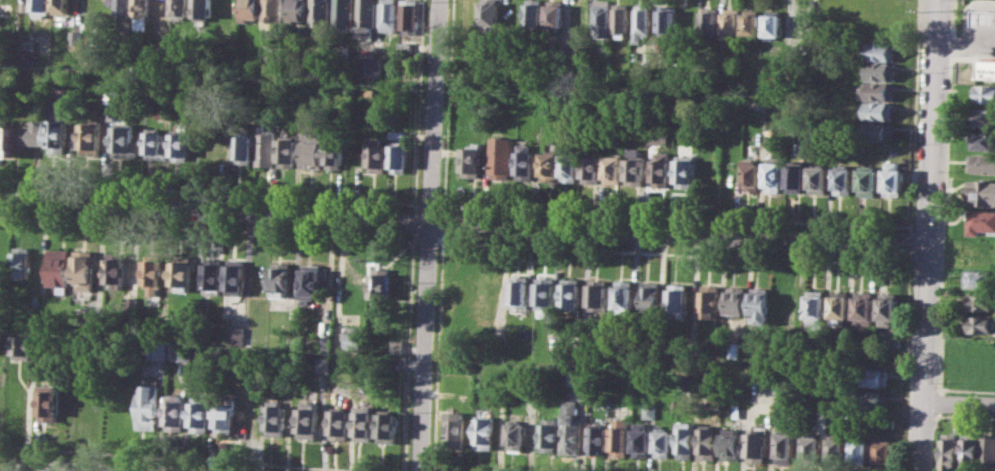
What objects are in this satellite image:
building: (59, 6)
building: (122, 7)
building: (38, 8)
building: (179, 9)
building: (158, 10)
building: (201, 10)
building: (247, 10)
building: (295, 11)
building: (271, 13)
building: (319, 13)
building: (140, 14)
building: (342, 14)
building: (487, 14)
building: (554, 14)
building: (388, 15)
building: (532, 15)
building: (409, 16)
building: (577, 16)
building: (365, 18)
building: (601, 18)
building: (620, 18)
building: (667, 19)
building: (984, 19)
gas station: (984, 19)
building: (709, 21)
building: (642, 22)
building: (732, 22)
building: (752, 22)
building: (774, 23)
building: (73, 37)
building: (404, 48)
building: (883, 52)
building: (647, 58)
building: (368, 66)
building: (986, 70)
building: (882, 71)
building: (878, 91)
building: (984, 94)
building: (109, 95)
road: (418, 106)
road: (448, 106)
building: (56, 110)
building: (880, 111)
building: (163, 112)
building: (194, 112)
road: (914, 116)
building: (985, 117)
building: (880, 131)
building: (30, 133)
building: (397, 134)
building: (90, 135)
building: (56, 136)
building: (662, 136)
building: (6, 139)
building: (124, 140)
building: (983, 140)
building: (180, 142)
building: (155, 145)
building: (266, 146)
building: (243, 149)
building: (311, 151)
building: (288, 152)
building: (335, 152)
building: (379, 154)
building: (502, 156)
building: (400, 159)
building: (471, 162)
building: (525, 162)
building: (982, 163)
building: (549, 166)
building: (636, 166)
building: (571, 167)
building: (594, 167)
building: (662, 167)
building: (616, 169)
building: (687, 170)
building: (776, 172)
building: (754, 174)
building: (799, 175)
building: (821, 177)
building: (846, 179)
building: (870, 179)
building: (895, 179)
road: (210, 190)
building: (984, 192)
road: (429, 203)
road: (674, 214)
road: (413, 221)
road: (443, 222)
road: (463, 222)
building: (983, 222)
road: (209, 227)
road: (429, 235)
road: (928, 235)
road: (427, 240)
road: (909, 243)
road: (672, 251)
building: (21, 264)
building: (58, 269)
building: (115, 269)
building: (83, 270)
building: (182, 271)
building: (214, 274)
building: (154, 275)
building: (236, 276)
building: (281, 278)
building: (980, 278)
building: (311, 281)
building: (381, 284)
building: (489, 286)
building: (522, 292)
building: (574, 294)
building: (600, 295)
building: (549, 296)
building: (626, 297)
building: (653, 298)
building: (739, 300)
building: (713, 301)
building: (979, 301)
building: (679, 302)
building: (762, 304)
building: (131, 306)
building: (841, 307)
building: (866, 307)
building: (817, 308)
building: (890, 308)
building: (89, 323)
building: (979, 323)
building: (237, 335)
building: (355, 338)
building: (893, 342)
building: (299, 344)
building: (324, 345)
building: (22, 347)
building: (397, 347)
building: (735, 349)
building: (156, 350)
road: (408, 350)
road: (437, 350)
building: (184, 352)
building: (289, 358)
road: (905, 362)
building: (323, 364)
building: (578, 376)
building: (874, 377)
building: (690, 381)
building: (49, 399)
building: (874, 399)
road: (959, 404)
building: (148, 406)
building: (176, 412)
building: (201, 414)
road: (27, 415)
building: (225, 415)
building: (276, 417)
building: (310, 420)
building: (365, 422)
building: (340, 423)
building: (388, 425)
building: (572, 427)
building: (454, 429)
building: (485, 432)
building: (549, 434)
building: (517, 435)
building: (620, 437)
building: (641, 438)
building: (598, 439)
building: (662, 440)
building: (685, 440)
building: (785, 441)
building: (708, 443)
building: (730, 443)
building: (757, 443)
building: (811, 448)
building: (970, 449)
building: (988, 449)
building: (837, 451)
building: (860, 451)
building: (950, 451)
building: (885, 453)
road: (188, 457)
road: (56, 467)

